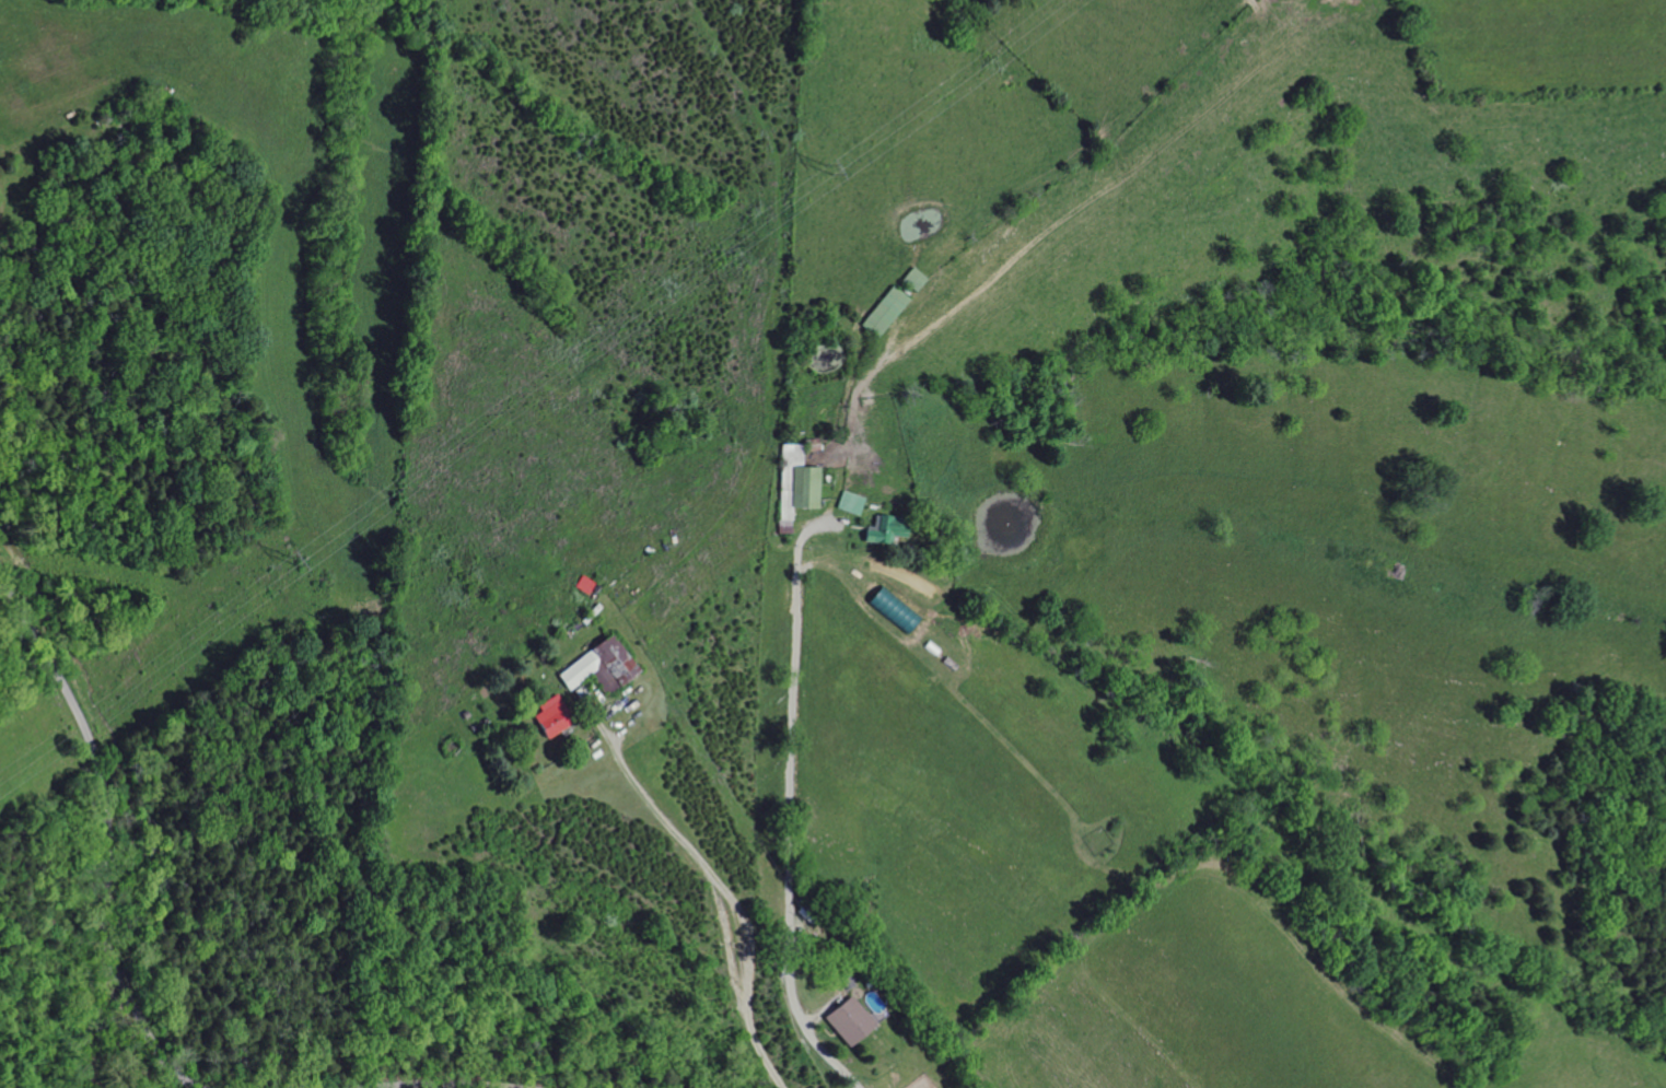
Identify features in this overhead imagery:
building: (881, 311)
building: (793, 483)
building: (847, 502)
building: (882, 530)
building: (596, 666)
building: (547, 717)
road: (788, 806)
road: (106, 839)
building: (846, 1021)

